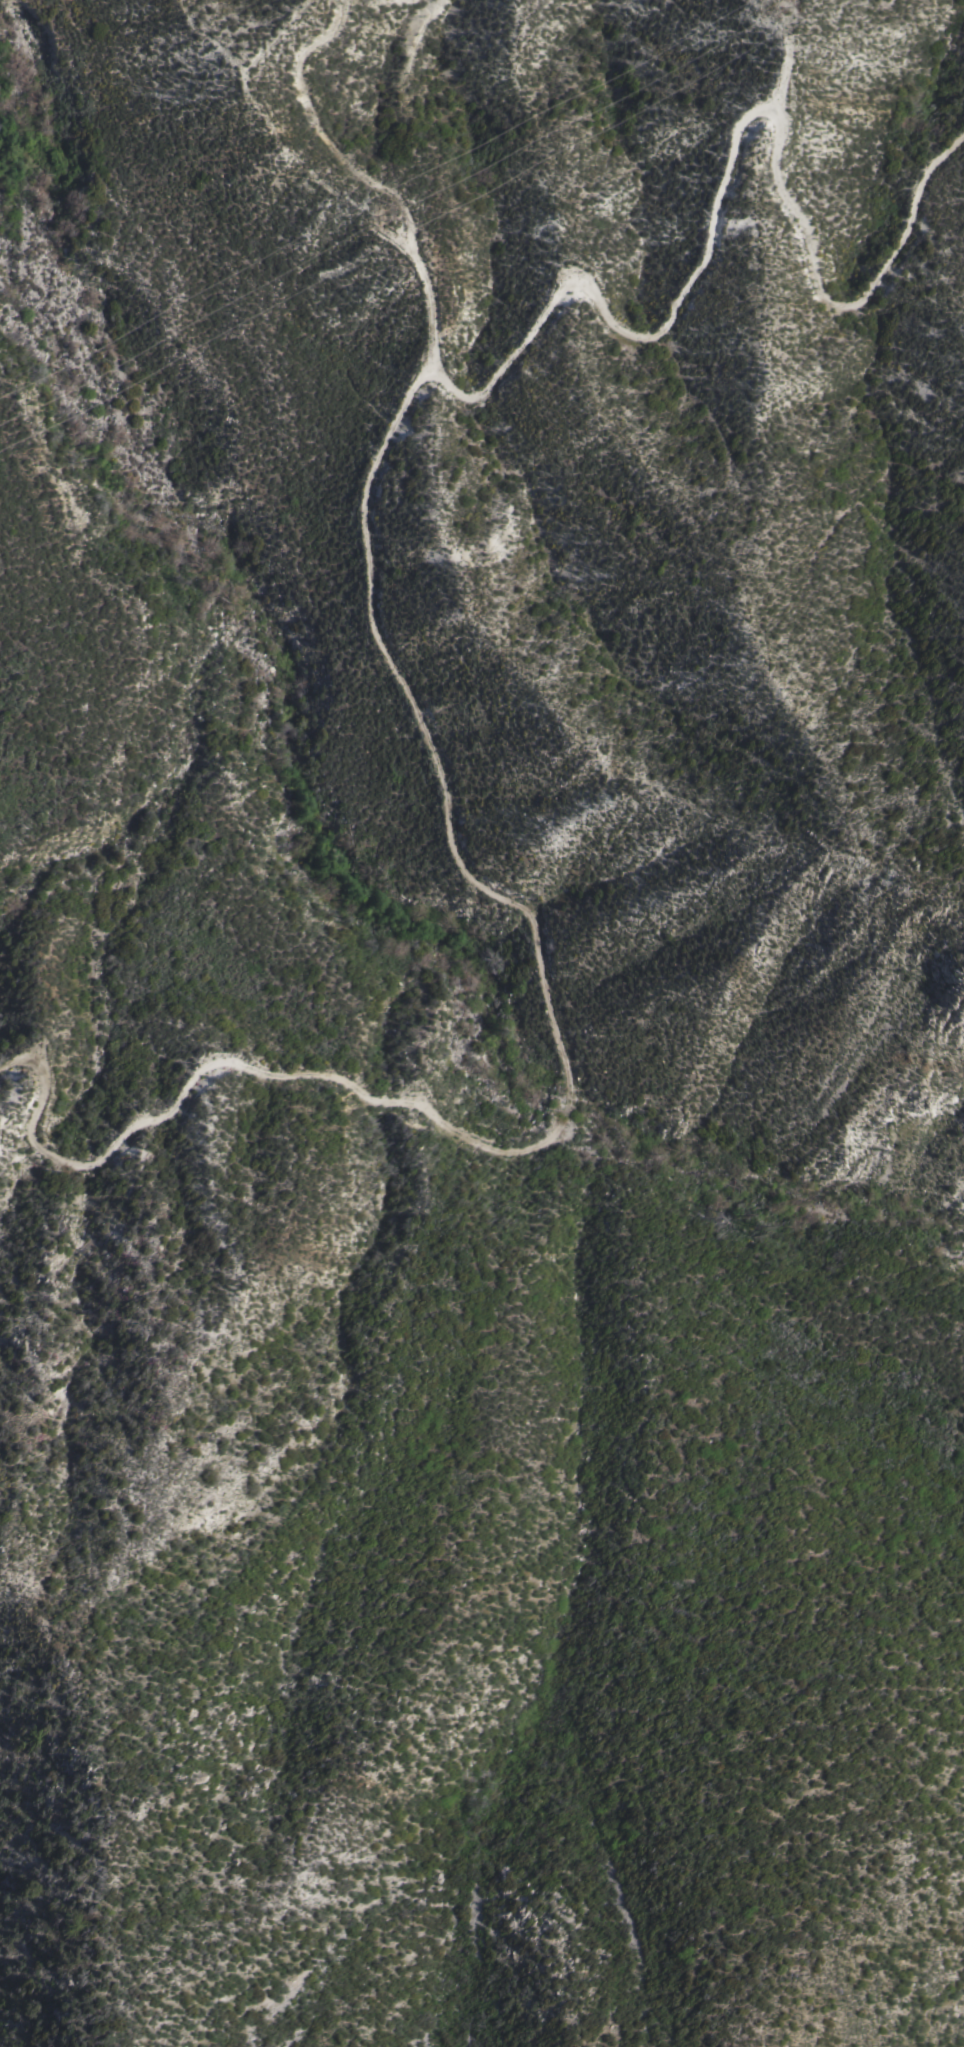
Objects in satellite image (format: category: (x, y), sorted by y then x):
road: (783, 60)
road: (730, 149)
road: (384, 179)
power tower: (380, 201)
road: (567, 1069)

